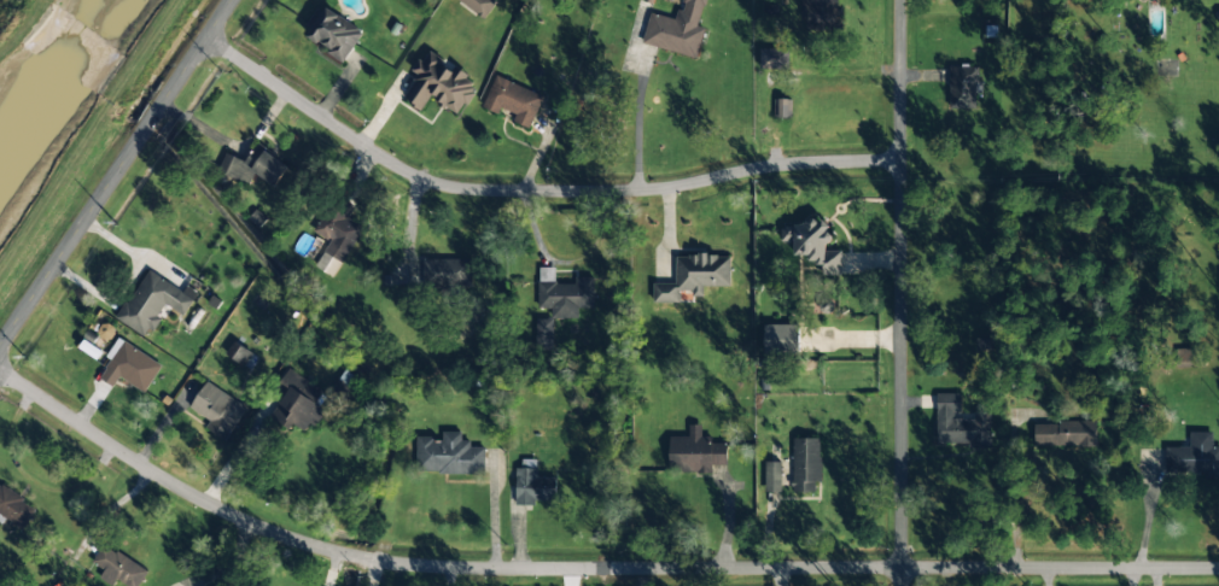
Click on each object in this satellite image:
building: (479, 6)
building: (820, 14)
building: (1218, 17)
building: (677, 29)
building: (334, 35)
building: (774, 59)
building: (439, 84)
building: (963, 88)
building: (512, 101)
building: (783, 107)
building: (253, 166)
road: (117, 175)
road: (536, 187)
building: (336, 235)
building: (812, 245)
building: (445, 273)
building: (694, 276)
building: (562, 293)
road: (903, 293)
building: (152, 303)
building: (543, 334)
building: (782, 339)
building: (239, 354)
building: (1184, 357)
building: (130, 370)
building: (297, 404)
building: (217, 410)
building: (960, 423)
building: (1066, 434)
building: (696, 452)
building: (448, 455)
building: (1192, 456)
building: (806, 465)
building: (772, 476)
building: (531, 485)
building: (14, 506)
building: (117, 567)
road: (584, 567)

